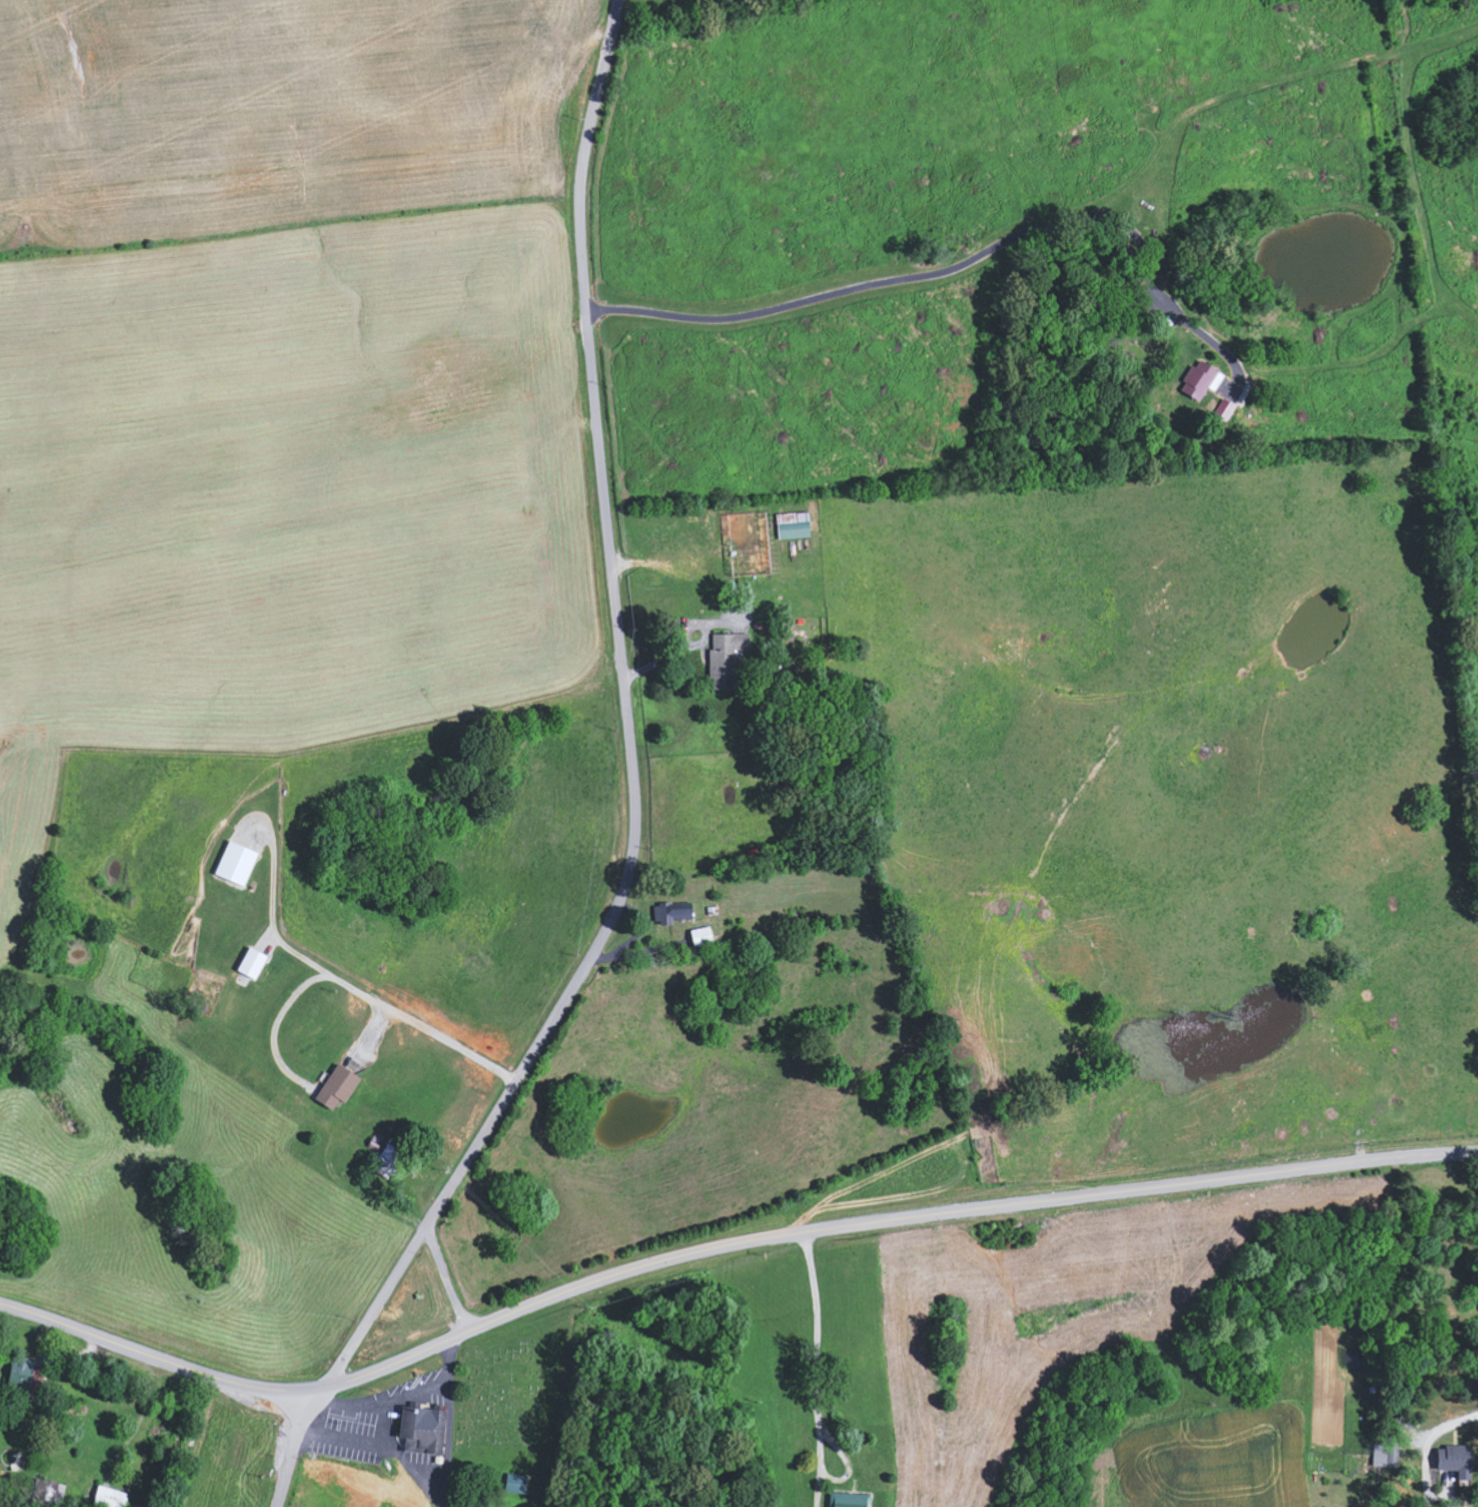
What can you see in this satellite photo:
road: (962, 264)
building: (1203, 379)
building: (1227, 408)
building: (728, 658)
road: (631, 797)
building: (239, 863)
building: (675, 912)
road: (269, 917)
building: (705, 936)
building: (255, 963)
road: (352, 992)
building: (340, 1087)
road: (723, 1247)
road: (812, 1371)
building: (23, 1374)
park: (516, 1397)
building: (426, 1428)
building: (1385, 1454)
road: (1425, 1458)
building: (1460, 1460)
road: (844, 1465)
building: (519, 1483)
building: (112, 1497)
building: (851, 1500)
building: (390, 1502)

